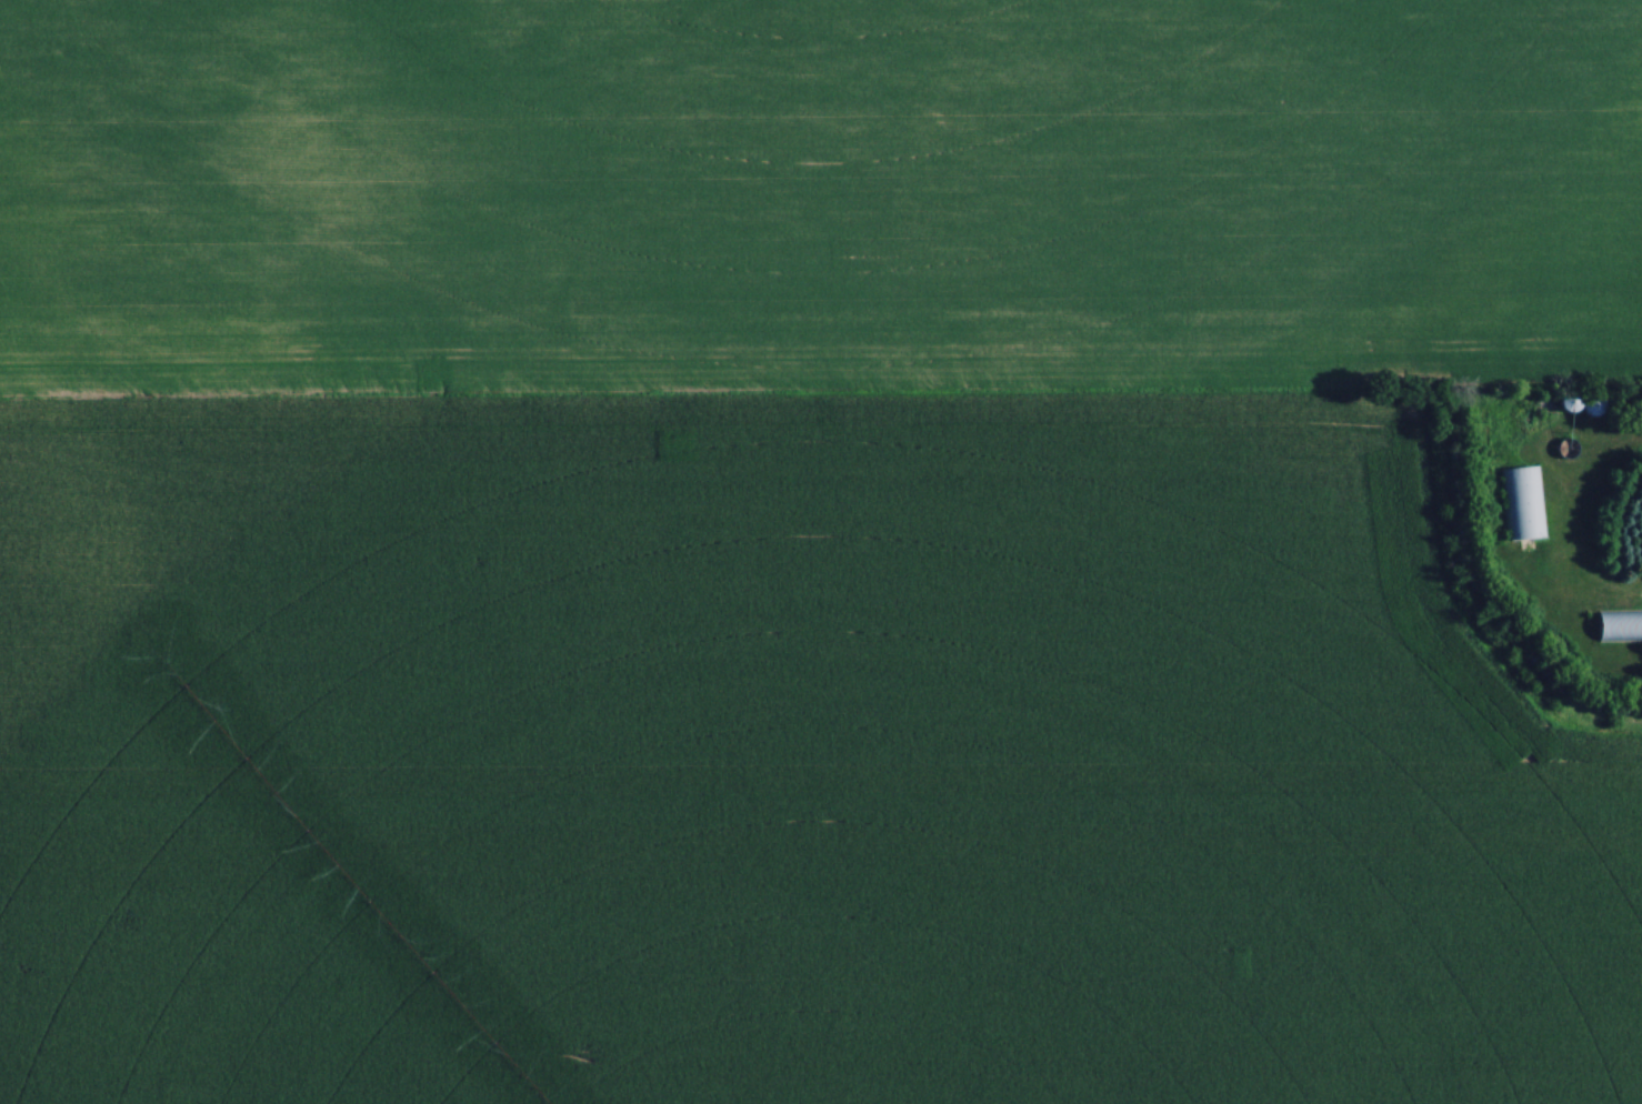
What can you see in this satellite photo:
building: (1520, 503)
building: (1615, 626)

